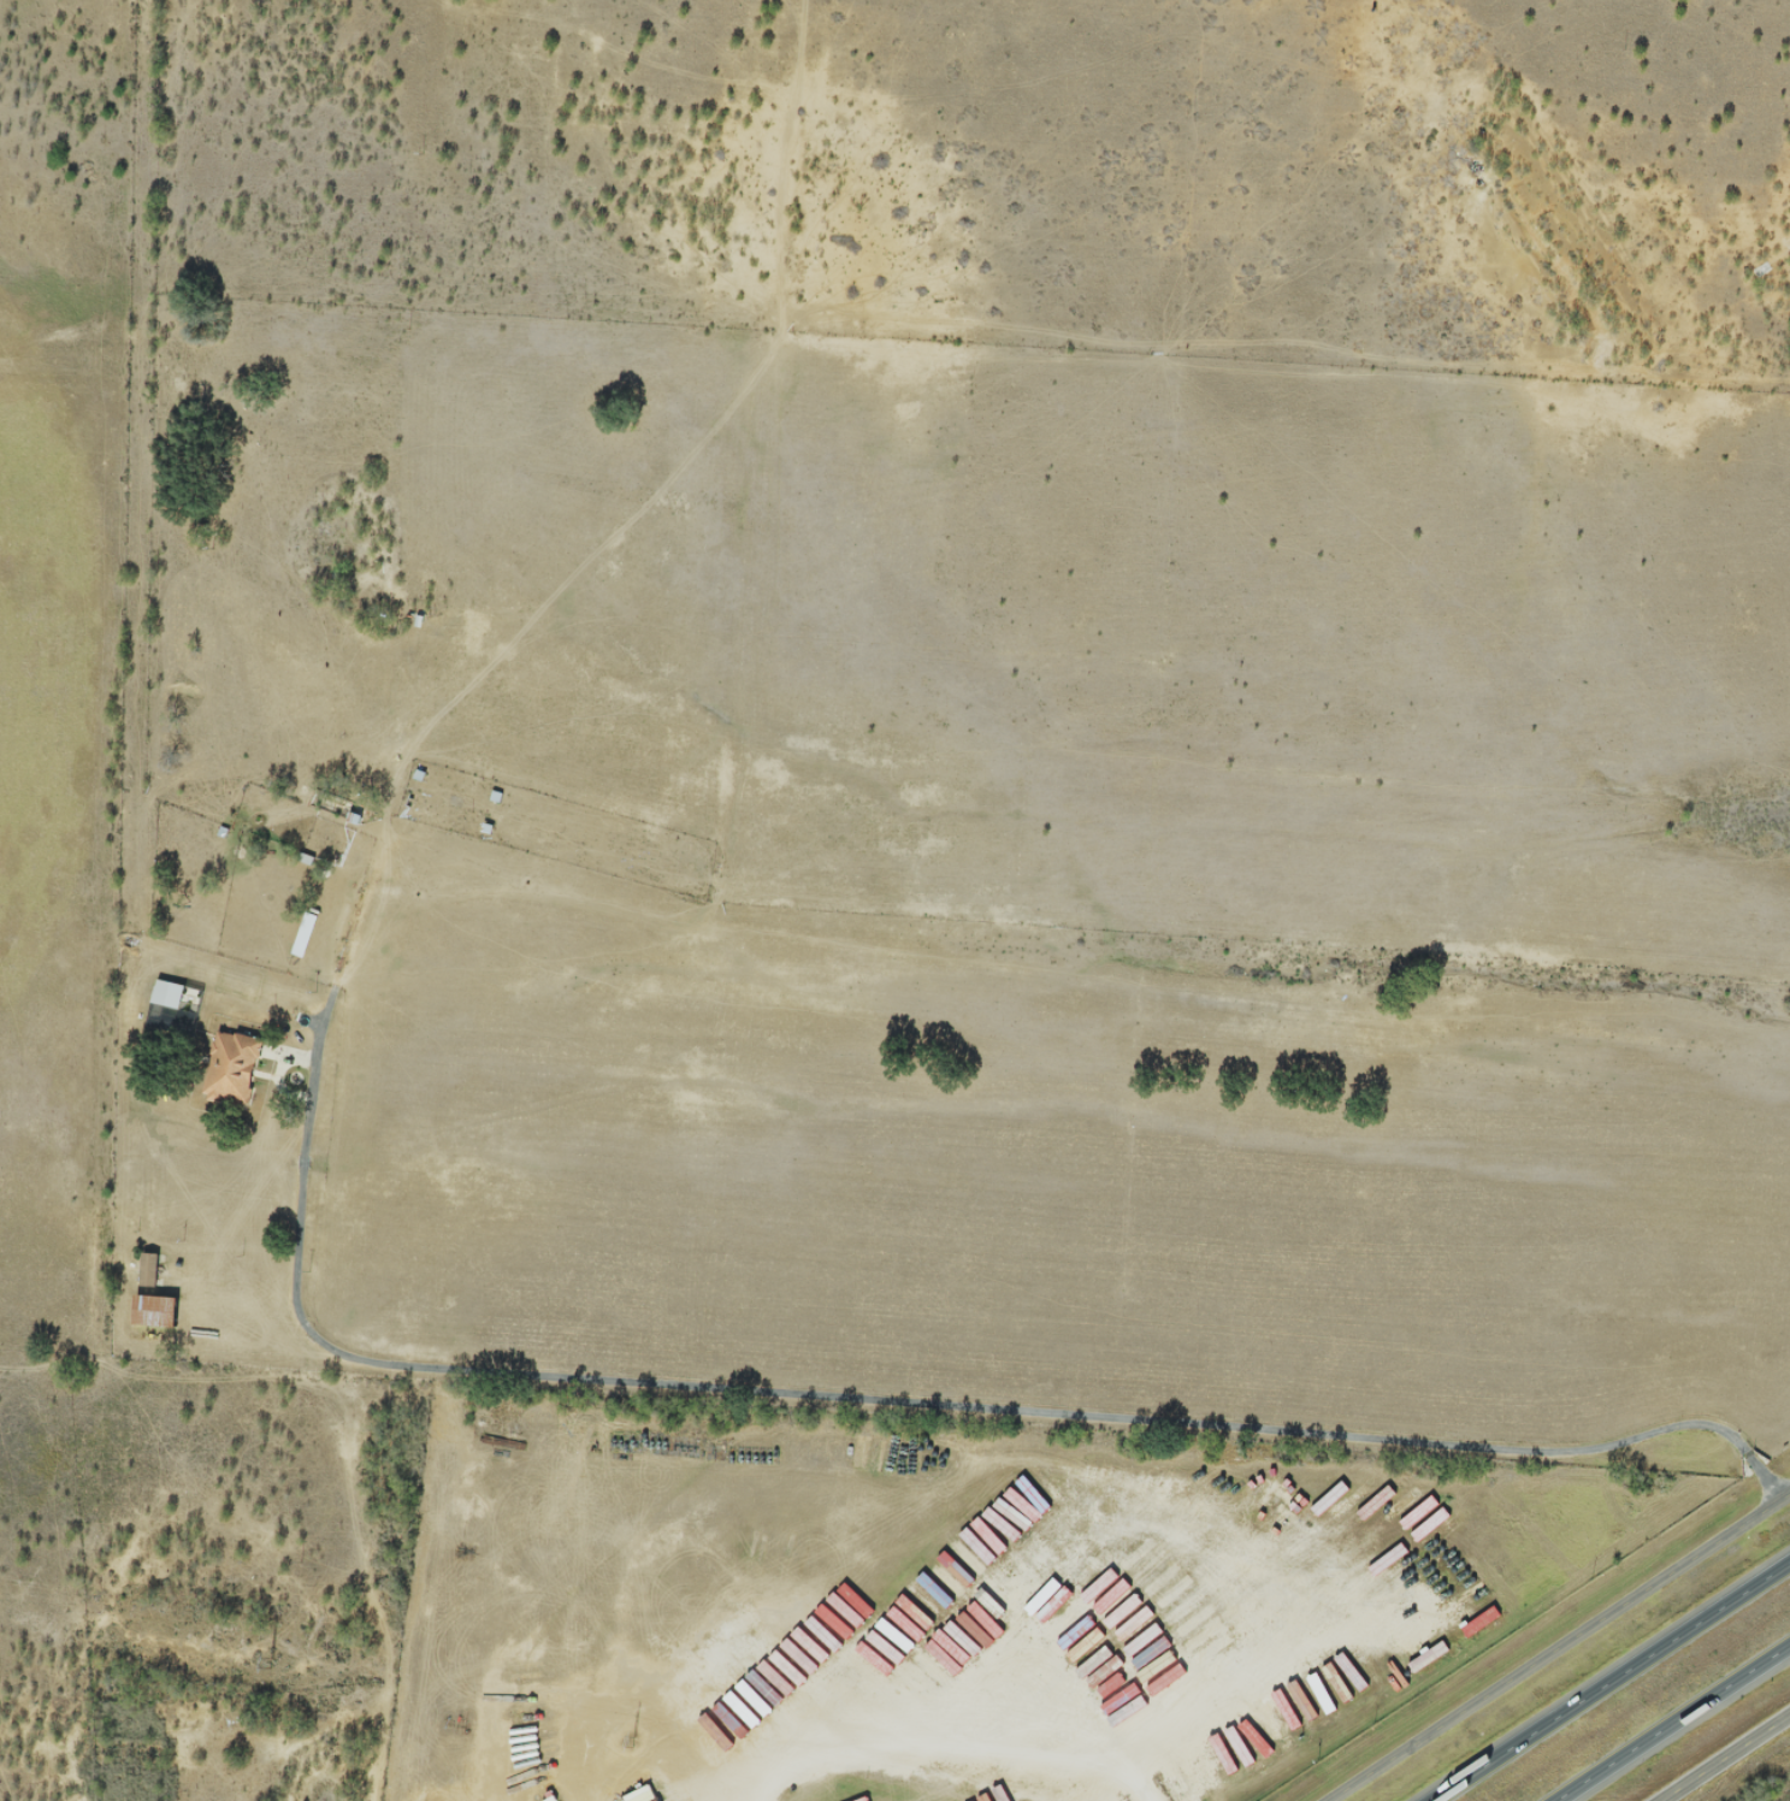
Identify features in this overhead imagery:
building: (176, 1005)
building: (235, 1067)
building: (150, 1266)
building: (158, 1309)
road: (803, 1381)
road: (1560, 1646)
power tower: (272, 1659)
road: (1605, 1678)
building: (182, 1714)
road: (1676, 1724)
road: (940, 1735)
power tower: (634, 1740)
road: (1726, 1759)

